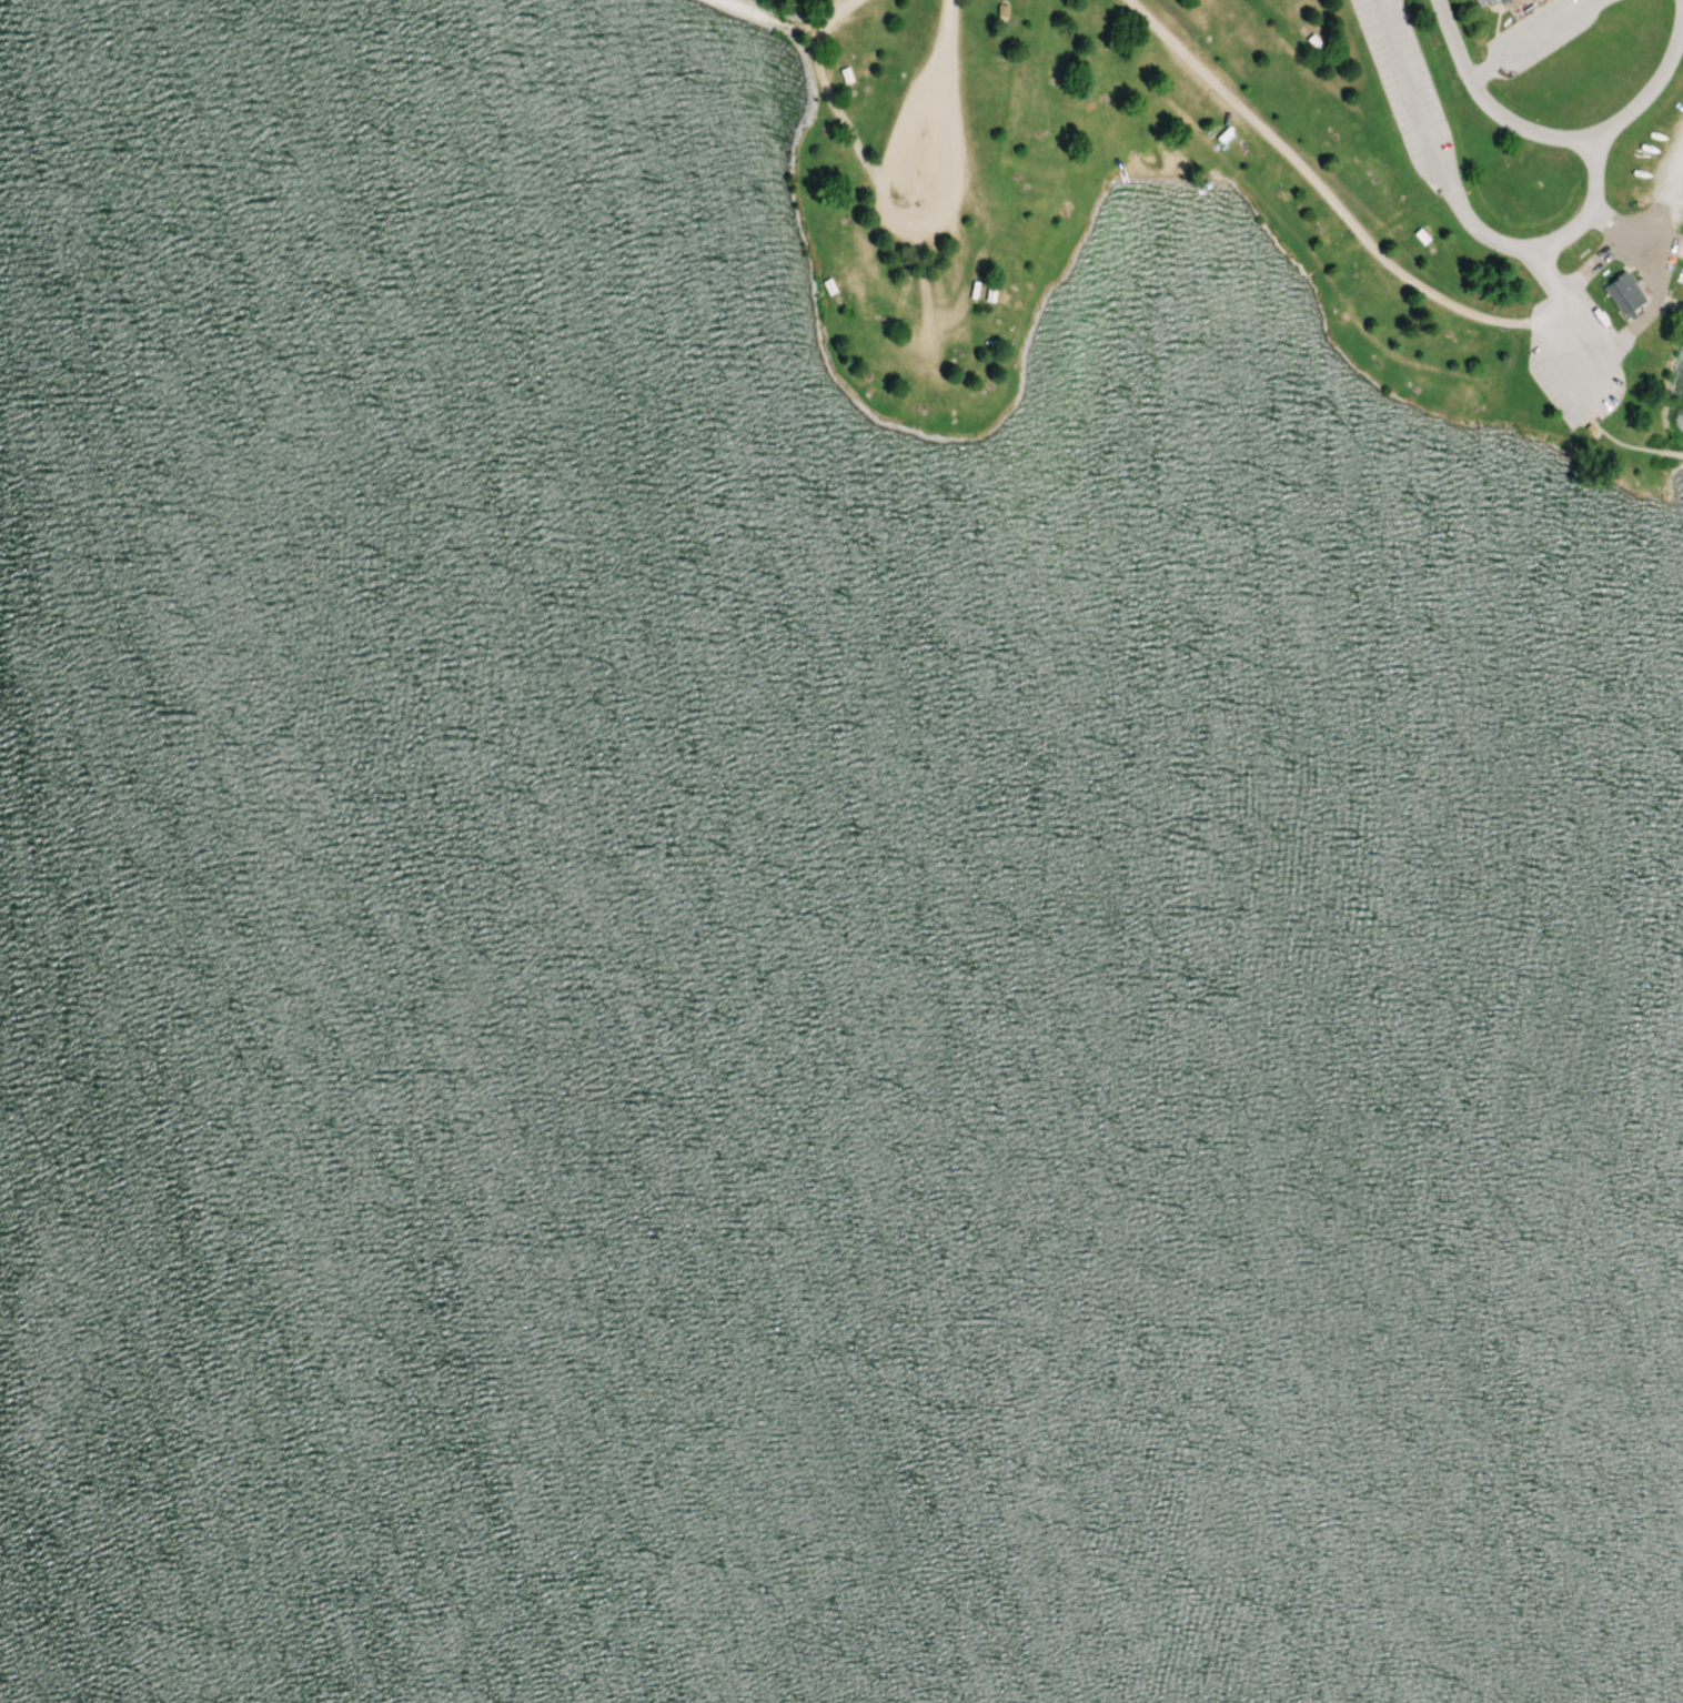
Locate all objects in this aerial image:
road: (1590, 3)
road: (943, 29)
parking lot: (1535, 34)
road: (1540, 34)
road: (1481, 71)
parking lot: (1407, 92)
road: (1482, 103)
road: (1314, 184)
road: (943, 196)
road: (1647, 214)
road: (1530, 251)
road: (1539, 265)
building: (1624, 294)
road: (1603, 345)
parking lot: (1574, 351)
park: (841, 851)
river: (331, 1399)

